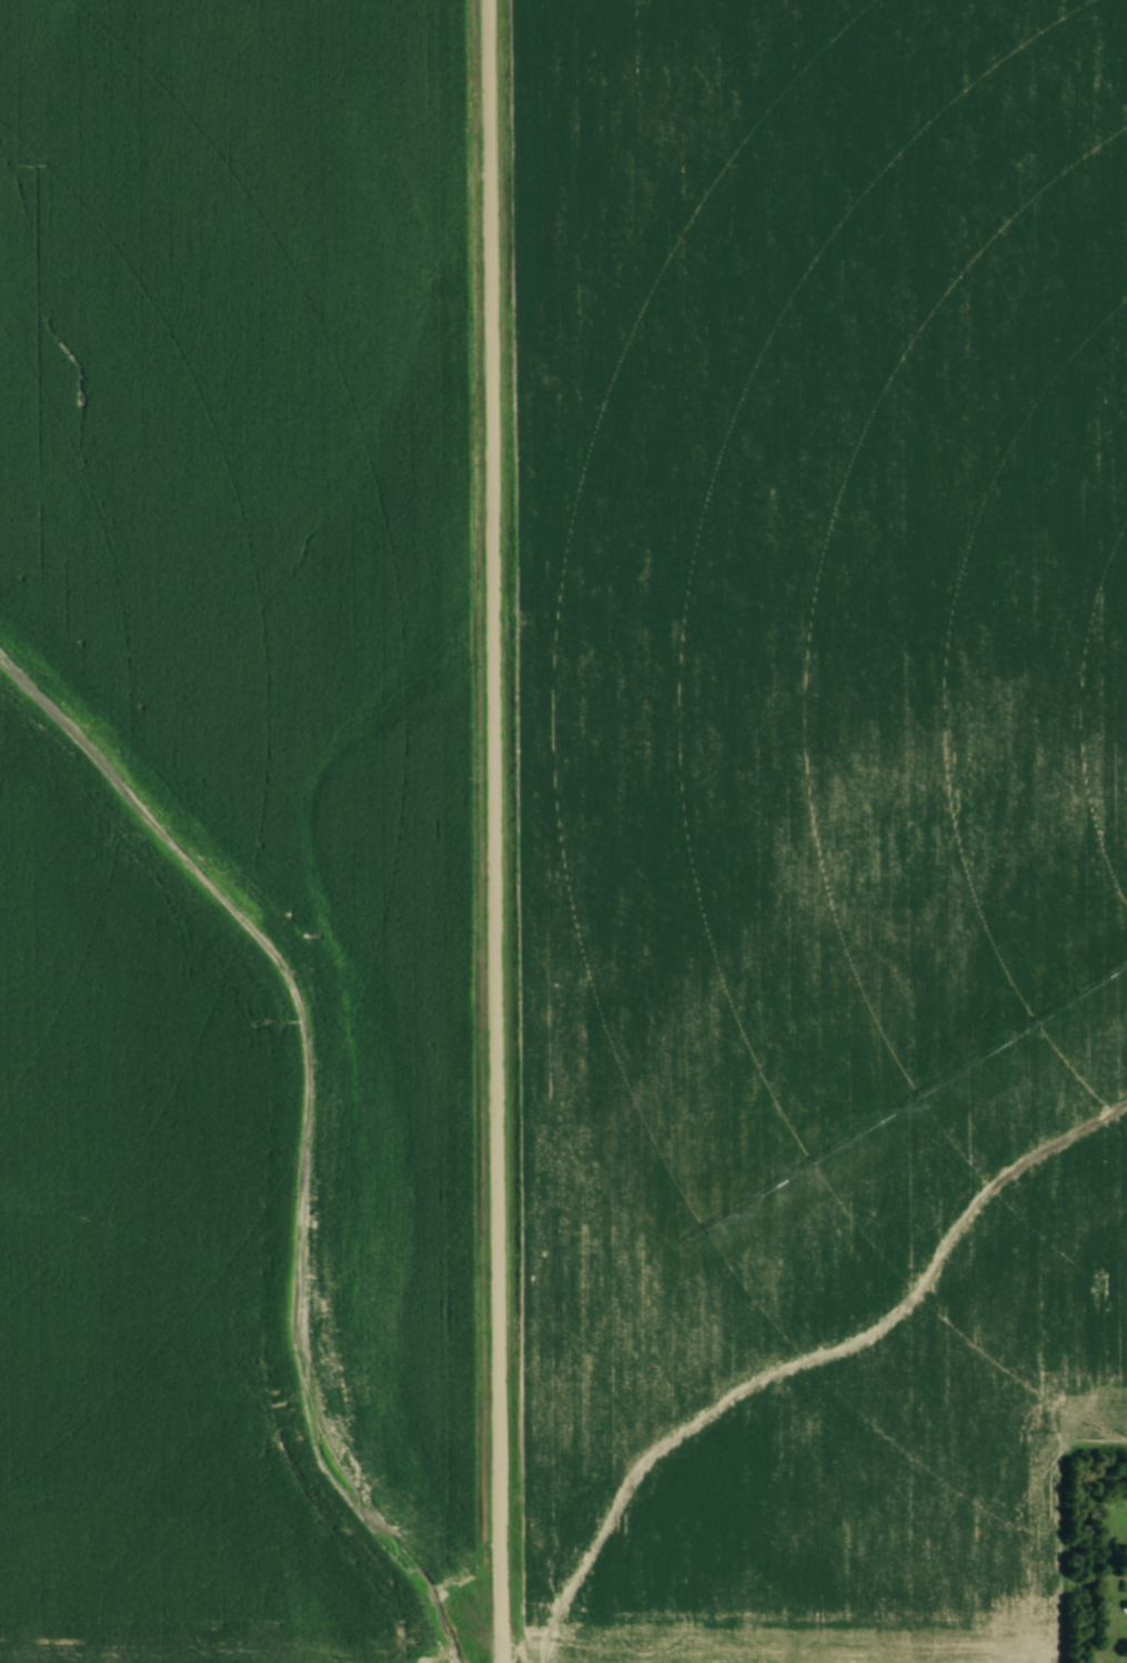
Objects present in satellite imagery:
road: (493, 830)

